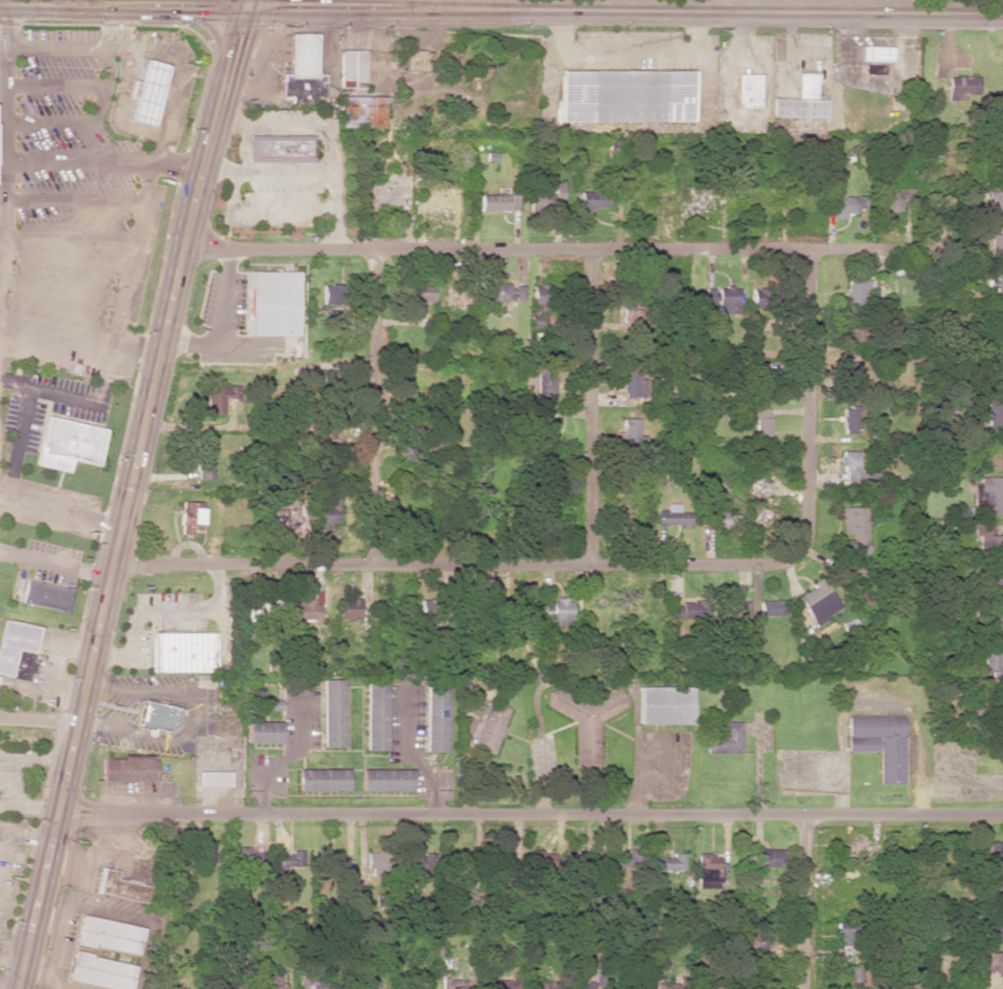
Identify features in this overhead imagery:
road: (467, 6)
road: (120, 8)
traffic signals: (240, 11)
road: (621, 13)
road: (54, 47)
building: (417, 61)
building: (352, 69)
building: (875, 69)
building: (302, 71)
road: (53, 85)
road: (103, 85)
building: (963, 87)
building: (746, 90)
building: (147, 92)
building: (627, 96)
building: (801, 101)
building: (361, 111)
road: (49, 121)
road: (3, 129)
building: (282, 148)
building: (999, 161)
road: (102, 162)
road: (151, 166)
building: (894, 199)
building: (437, 200)
building: (592, 200)
building: (995, 200)
building: (515, 202)
building: (696, 202)
road: (73, 203)
building: (493, 203)
building: (846, 205)
road: (69, 239)
building: (996, 247)
road: (546, 249)
building: (996, 286)
road: (61, 289)
building: (854, 291)
building: (419, 292)
building: (503, 292)
building: (333, 294)
building: (723, 299)
building: (762, 299)
building: (275, 303)
building: (635, 315)
building: (537, 320)
building: (999, 329)
road: (80, 333)
building: (537, 340)
building: (851, 374)
building: (632, 383)
building: (546, 384)
building: (761, 384)
building: (219, 397)
road: (80, 399)
road: (593, 406)
road: (372, 407)
building: (995, 413)
building: (851, 421)
building: (762, 425)
building: (546, 427)
building: (631, 432)
road: (18, 442)
building: (67, 444)
building: (203, 460)
building: (867, 474)
building: (759, 485)
road: (128, 493)
building: (988, 496)
road: (60, 510)
building: (190, 517)
building: (674, 517)
building: (727, 519)
building: (281, 520)
building: (855, 530)
building: (985, 536)
road: (609, 564)
road: (55, 565)
building: (46, 596)
building: (819, 602)
building: (741, 605)
building: (772, 608)
building: (305, 609)
building: (348, 609)
building: (267, 611)
building: (683, 611)
building: (559, 612)
building: (990, 626)
building: (18, 650)
building: (184, 652)
building: (991, 664)
road: (52, 665)
building: (989, 702)
building: (665, 706)
building: (332, 713)
building: (159, 716)
building: (375, 716)
building: (587, 717)
building: (435, 719)
road: (39, 721)
building: (491, 728)
building: (263, 732)
building: (725, 740)
building: (879, 743)
road: (47, 758)
building: (129, 770)
building: (212, 779)
building: (321, 780)
building: (385, 780)
road: (19, 800)
road: (531, 816)
building: (988, 851)
building: (249, 854)
building: (202, 855)
building: (291, 858)
building: (763, 858)
building: (541, 859)
building: (624, 859)
building: (669, 862)
building: (374, 864)
building: (336, 865)
building: (708, 870)
building: (120, 887)
building: (994, 888)
road: (805, 903)
building: (992, 932)
building: (846, 934)
building: (108, 935)
building: (990, 962)
building: (100, 972)
building: (272, 982)
building: (365, 984)
building: (452, 984)
building: (503, 984)
building: (320, 985)
building: (671, 985)
building: (230, 986)
building: (419, 986)

